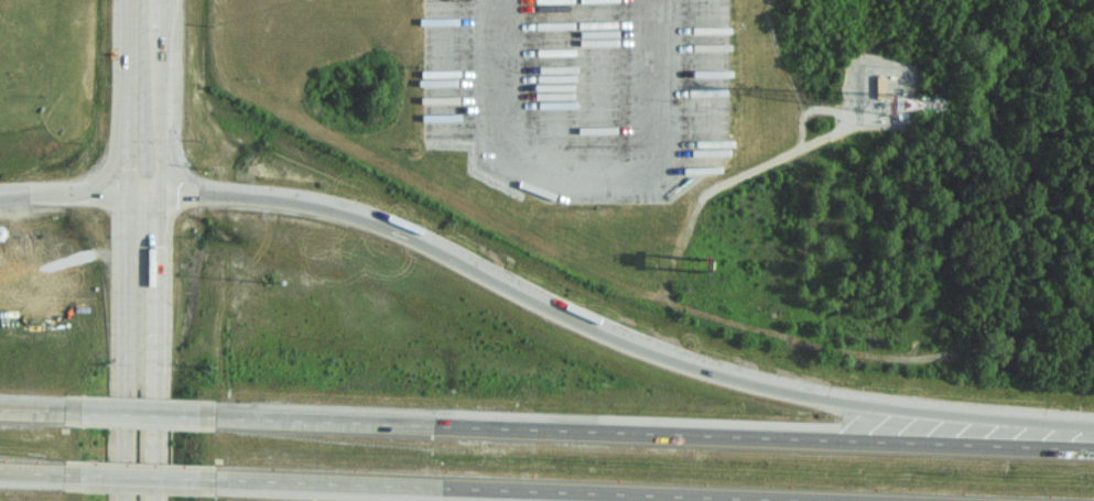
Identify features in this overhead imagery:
road: (661, 70)
road: (500, 73)
road: (155, 97)
road: (586, 162)
road: (79, 195)
traffic signals: (161, 195)
traffic signals: (126, 196)
road: (124, 250)
road: (618, 335)
road: (156, 348)
road: (33, 407)
road: (143, 412)
road: (657, 431)
road: (32, 473)
road: (142, 478)
road: (526, 490)

